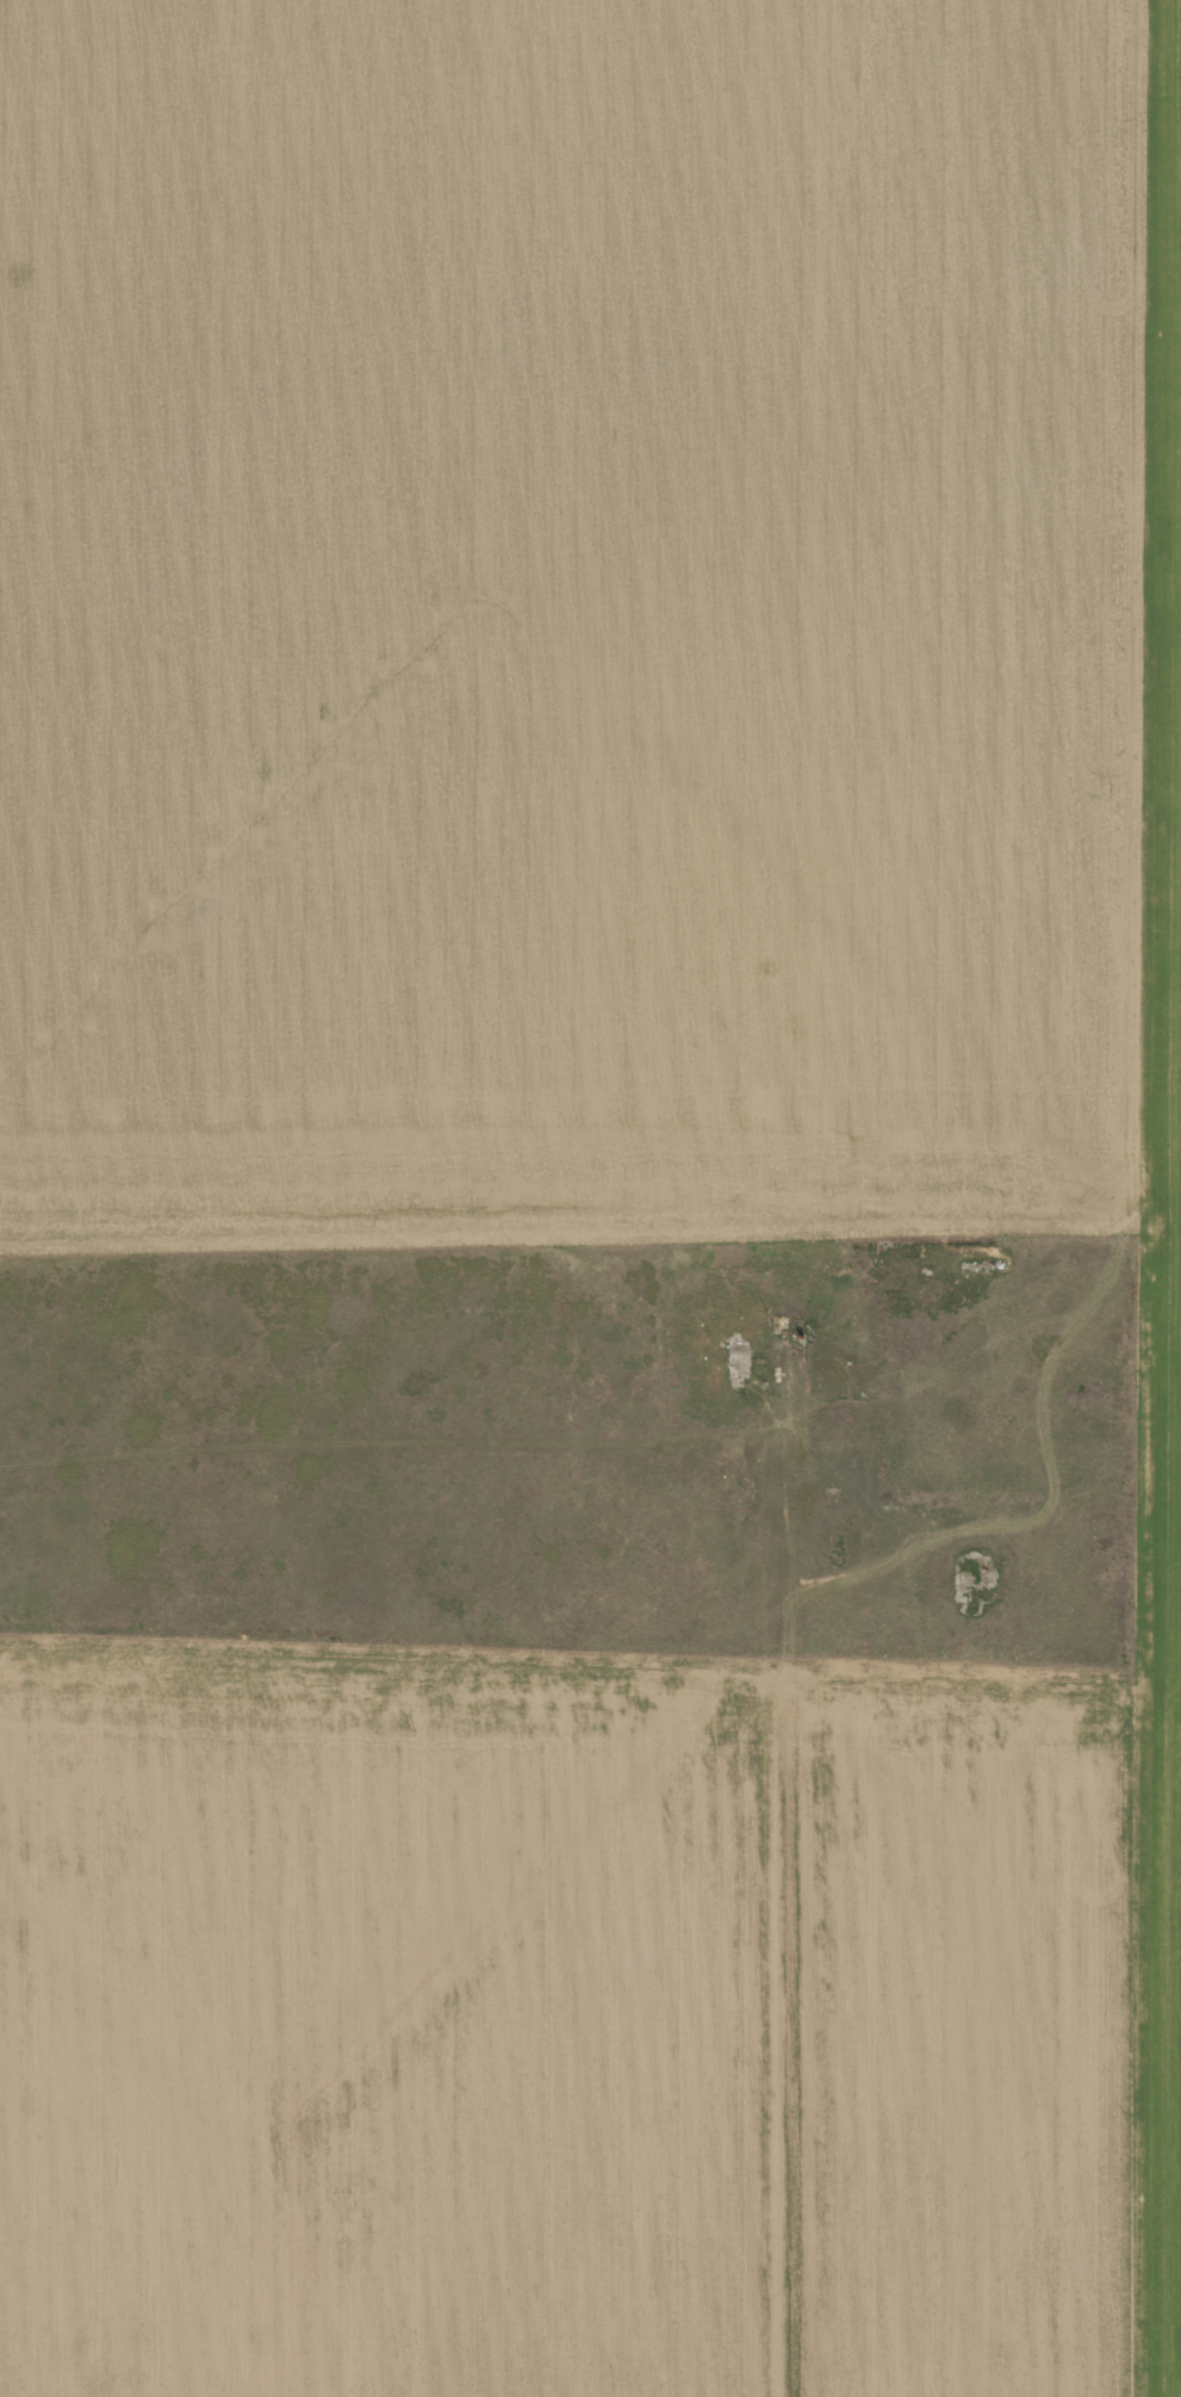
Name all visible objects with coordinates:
road: (707, 1939)

